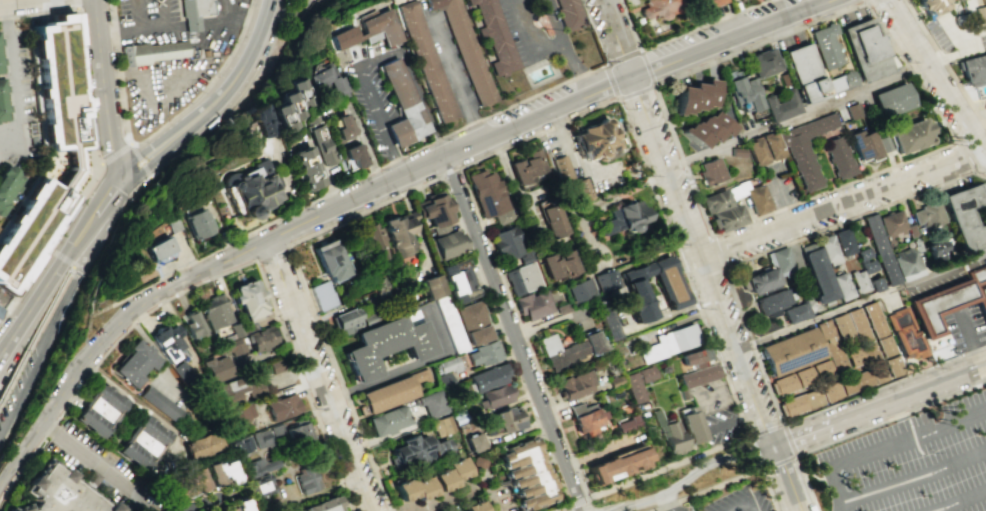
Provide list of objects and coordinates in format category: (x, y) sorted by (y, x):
building: (740, 0)
road: (866, 0)
building: (946, 0)
road: (4, 1)
road: (14, 1)
building: (303, 3)
road: (76, 4)
building: (708, 5)
building: (928, 6)
building: (661, 8)
road: (38, 12)
building: (194, 13)
building: (568, 14)
building: (979, 14)
road: (142, 16)
road: (876, 18)
road: (237, 20)
parking lot: (148, 21)
parking lot: (218, 28)
parking lot: (530, 28)
building: (365, 30)
road: (591, 32)
road: (139, 33)
road: (677, 34)
parking lot: (957, 34)
building: (494, 36)
road: (528, 38)
building: (828, 46)
building: (465, 48)
road: (563, 48)
road: (966, 49)
building: (866, 50)
building: (155, 52)
road: (379, 59)
building: (425, 60)
building: (764, 63)
road: (946, 63)
building: (972, 69)
road: (238, 73)
building: (805, 74)
road: (148, 75)
road: (935, 76)
road: (14, 78)
road: (457, 80)
building: (320, 81)
building: (842, 82)
road: (652, 84)
road: (104, 87)
parking lot: (164, 88)
building: (744, 92)
parking lot: (369, 95)
building: (695, 97)
building: (2, 100)
building: (891, 100)
road: (236, 101)
building: (282, 104)
building: (400, 104)
building: (784, 104)
parking lot: (981, 106)
building: (854, 111)
road: (796, 114)
road: (974, 118)
building: (254, 120)
building: (336, 129)
building: (707, 129)
road: (152, 134)
building: (911, 136)
building: (313, 140)
building: (593, 141)
building: (884, 143)
building: (773, 145)
building: (864, 145)
building: (47, 146)
road: (145, 147)
building: (806, 150)
building: (758, 151)
building: (739, 152)
road: (113, 154)
building: (348, 154)
road: (487, 154)
road: (964, 156)
building: (837, 158)
road: (140, 161)
road: (154, 161)
building: (561, 167)
building: (300, 169)
building: (525, 170)
building: (711, 172)
road: (91, 176)
building: (7, 181)
building: (247, 190)
road: (371, 190)
building: (579, 190)
road: (104, 194)
road: (325, 196)
building: (488, 196)
building: (758, 200)
building: (715, 202)
road: (840, 202)
building: (431, 210)
building: (927, 214)
building: (964, 214)
building: (728, 218)
building: (621, 219)
road: (111, 220)
building: (552, 221)
building: (196, 223)
road: (688, 223)
building: (891, 223)
building: (172, 225)
building: (911, 230)
road: (79, 231)
building: (398, 233)
road: (692, 240)
building: (843, 242)
building: (371, 243)
building: (444, 243)
building: (506, 243)
building: (158, 249)
building: (827, 249)
building: (880, 250)
road: (272, 251)
road: (718, 251)
building: (934, 252)
road: (78, 253)
building: (526, 255)
building: (327, 260)
building: (865, 260)
road: (71, 264)
building: (558, 265)
building: (907, 266)
building: (768, 273)
road: (216, 275)
road: (707, 275)
building: (818, 276)
building: (521, 278)
building: (604, 280)
building: (458, 281)
building: (858, 281)
building: (875, 284)
building: (979, 285)
building: (379, 286)
building: (841, 286)
building: (432, 287)
building: (580, 290)
building: (667, 290)
building: (323, 294)
building: (247, 300)
road: (861, 300)
building: (773, 301)
building: (532, 305)
building: (938, 305)
road: (34, 306)
building: (0, 307)
building: (561, 308)
building: (215, 312)
building: (796, 312)
road: (742, 316)
building: (373, 317)
building: (873, 319)
building: (348, 320)
building: (474, 322)
building: (450, 324)
building: (857, 325)
building: (192, 327)
building: (248, 327)
building: (236, 329)
road: (36, 330)
building: (843, 330)
road: (512, 333)
building: (903, 334)
building: (260, 339)
road: (970, 339)
building: (167, 342)
building: (667, 343)
building: (231, 346)
building: (830, 346)
building: (883, 346)
building: (384, 347)
road: (44, 348)
building: (568, 349)
road: (3, 352)
building: (790, 352)
building: (867, 352)
building: (484, 353)
building: (853, 357)
road: (160, 359)
building: (450, 364)
building: (133, 365)
building: (276, 365)
building: (891, 366)
road: (410, 367)
building: (216, 368)
building: (694, 368)
building: (821, 369)
building: (181, 371)
building: (876, 373)
road: (319, 376)
building: (802, 376)
building: (488, 377)
building: (445, 380)
parking lot: (19, 381)
building: (614, 381)
building: (853, 381)
building: (636, 383)
building: (783, 384)
building: (575, 385)
building: (234, 390)
building: (829, 391)
building: (391, 392)
building: (496, 396)
building: (811, 398)
building: (159, 403)
building: (431, 403)
building: (791, 405)
building: (282, 407)
road: (880, 408)
building: (98, 412)
building: (241, 412)
building: (460, 416)
building: (583, 420)
building: (386, 421)
building: (500, 421)
building: (626, 424)
building: (687, 425)
building: (440, 426)
building: (465, 426)
road: (862, 429)
road: (768, 431)
building: (668, 434)
building: (293, 437)
building: (475, 442)
building: (142, 443)
building: (263, 443)
road: (885, 445)
building: (201, 447)
building: (417, 450)
building: (244, 452)
road: (80, 455)
parking lot: (91, 461)
building: (478, 461)
parking lot: (913, 462)
road: (776, 463)
building: (261, 466)
park: (287, 466)
building: (616, 466)
road: (670, 468)
building: (454, 470)
building: (218, 474)
building: (524, 475)
road: (914, 476)
road: (690, 477)
building: (306, 478)
building: (90, 479)
road: (787, 479)
building: (440, 481)
road: (725, 482)
building: (183, 487)
building: (263, 488)
building: (419, 490)
building: (401, 491)
building: (55, 493)
road: (465, 493)
parking lot: (736, 499)
road: (960, 500)
road: (208, 501)
road: (579, 502)
road: (667, 503)
road: (746, 505)
building: (238, 506)
building: (322, 506)
building: (262, 507)
building: (471, 507)
parking lot: (679, 508)
road: (564, 509)
building: (227, 510)

